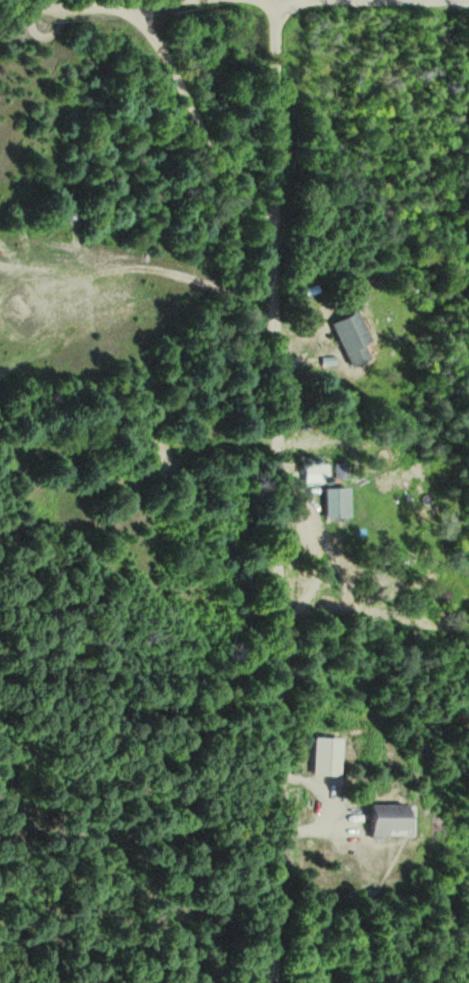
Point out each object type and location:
road: (24, 0)
road: (455, 0)
road: (260, 5)
building: (358, 337)
building: (323, 472)
road: (277, 491)
building: (345, 502)
building: (398, 820)

